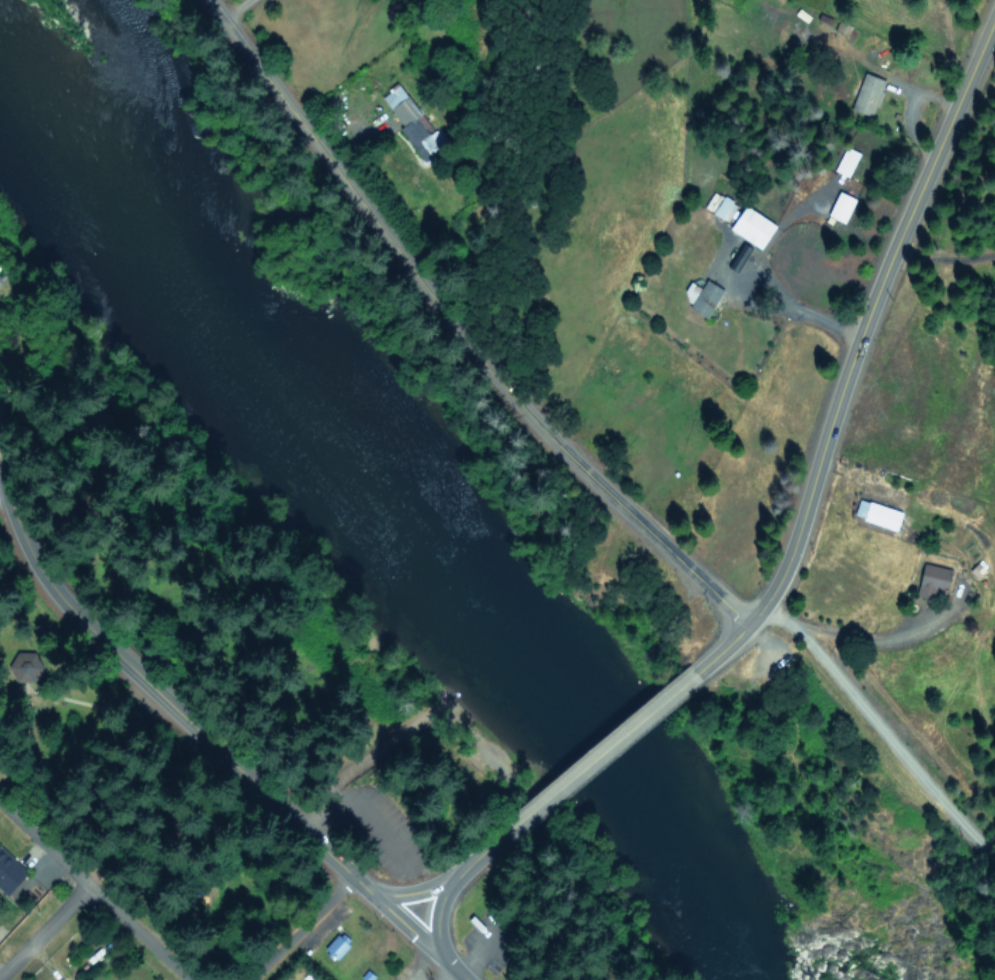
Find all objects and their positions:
road: (235, 9)
crop: (784, 26)
building: (866, 96)
building: (403, 112)
building: (845, 160)
building: (718, 204)
building: (839, 208)
building: (749, 227)
building: (703, 300)
road: (797, 308)
road: (868, 313)
road: (448, 335)
road: (7, 463)
river: (398, 505)
building: (879, 516)
building: (930, 581)
road: (869, 640)
road: (720, 647)
road: (129, 661)
road: (881, 718)
road: (609, 741)
road: (482, 849)
building: (7, 875)
road: (413, 892)
road: (95, 894)
road: (397, 908)
road: (436, 916)
park: (532, 921)
road: (299, 925)
road: (44, 934)
building: (334, 946)
road: (457, 964)
road: (462, 976)

